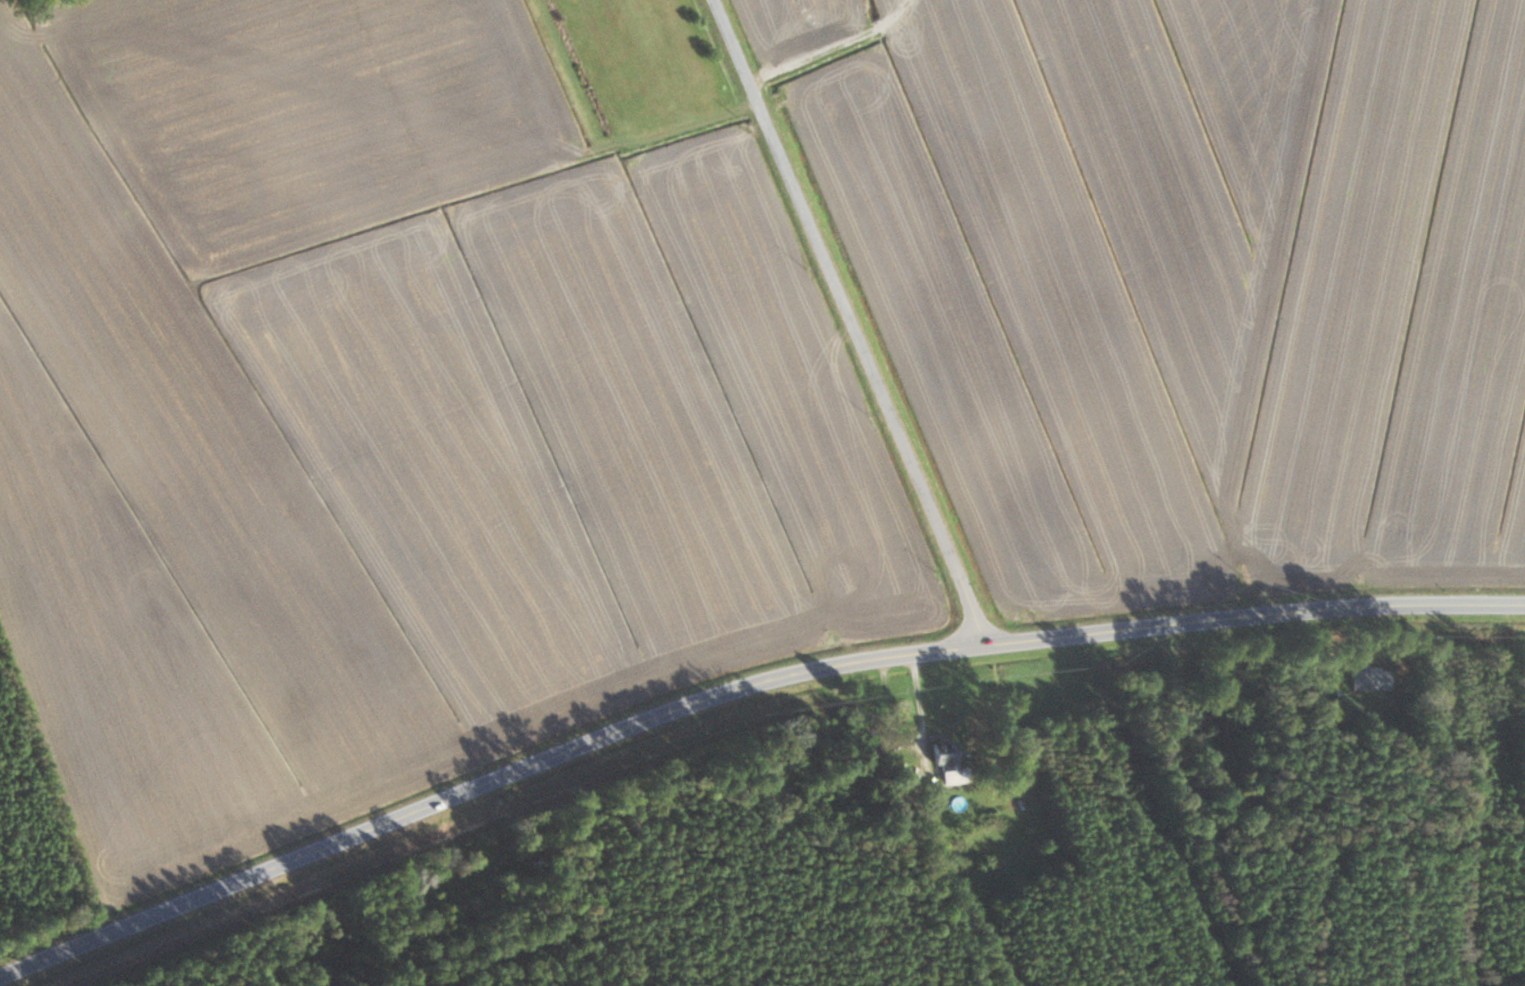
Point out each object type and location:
road: (106, 67)
road: (851, 321)
building: (1369, 678)
road: (738, 686)
road: (908, 740)
building: (947, 760)
building: (467, 856)

